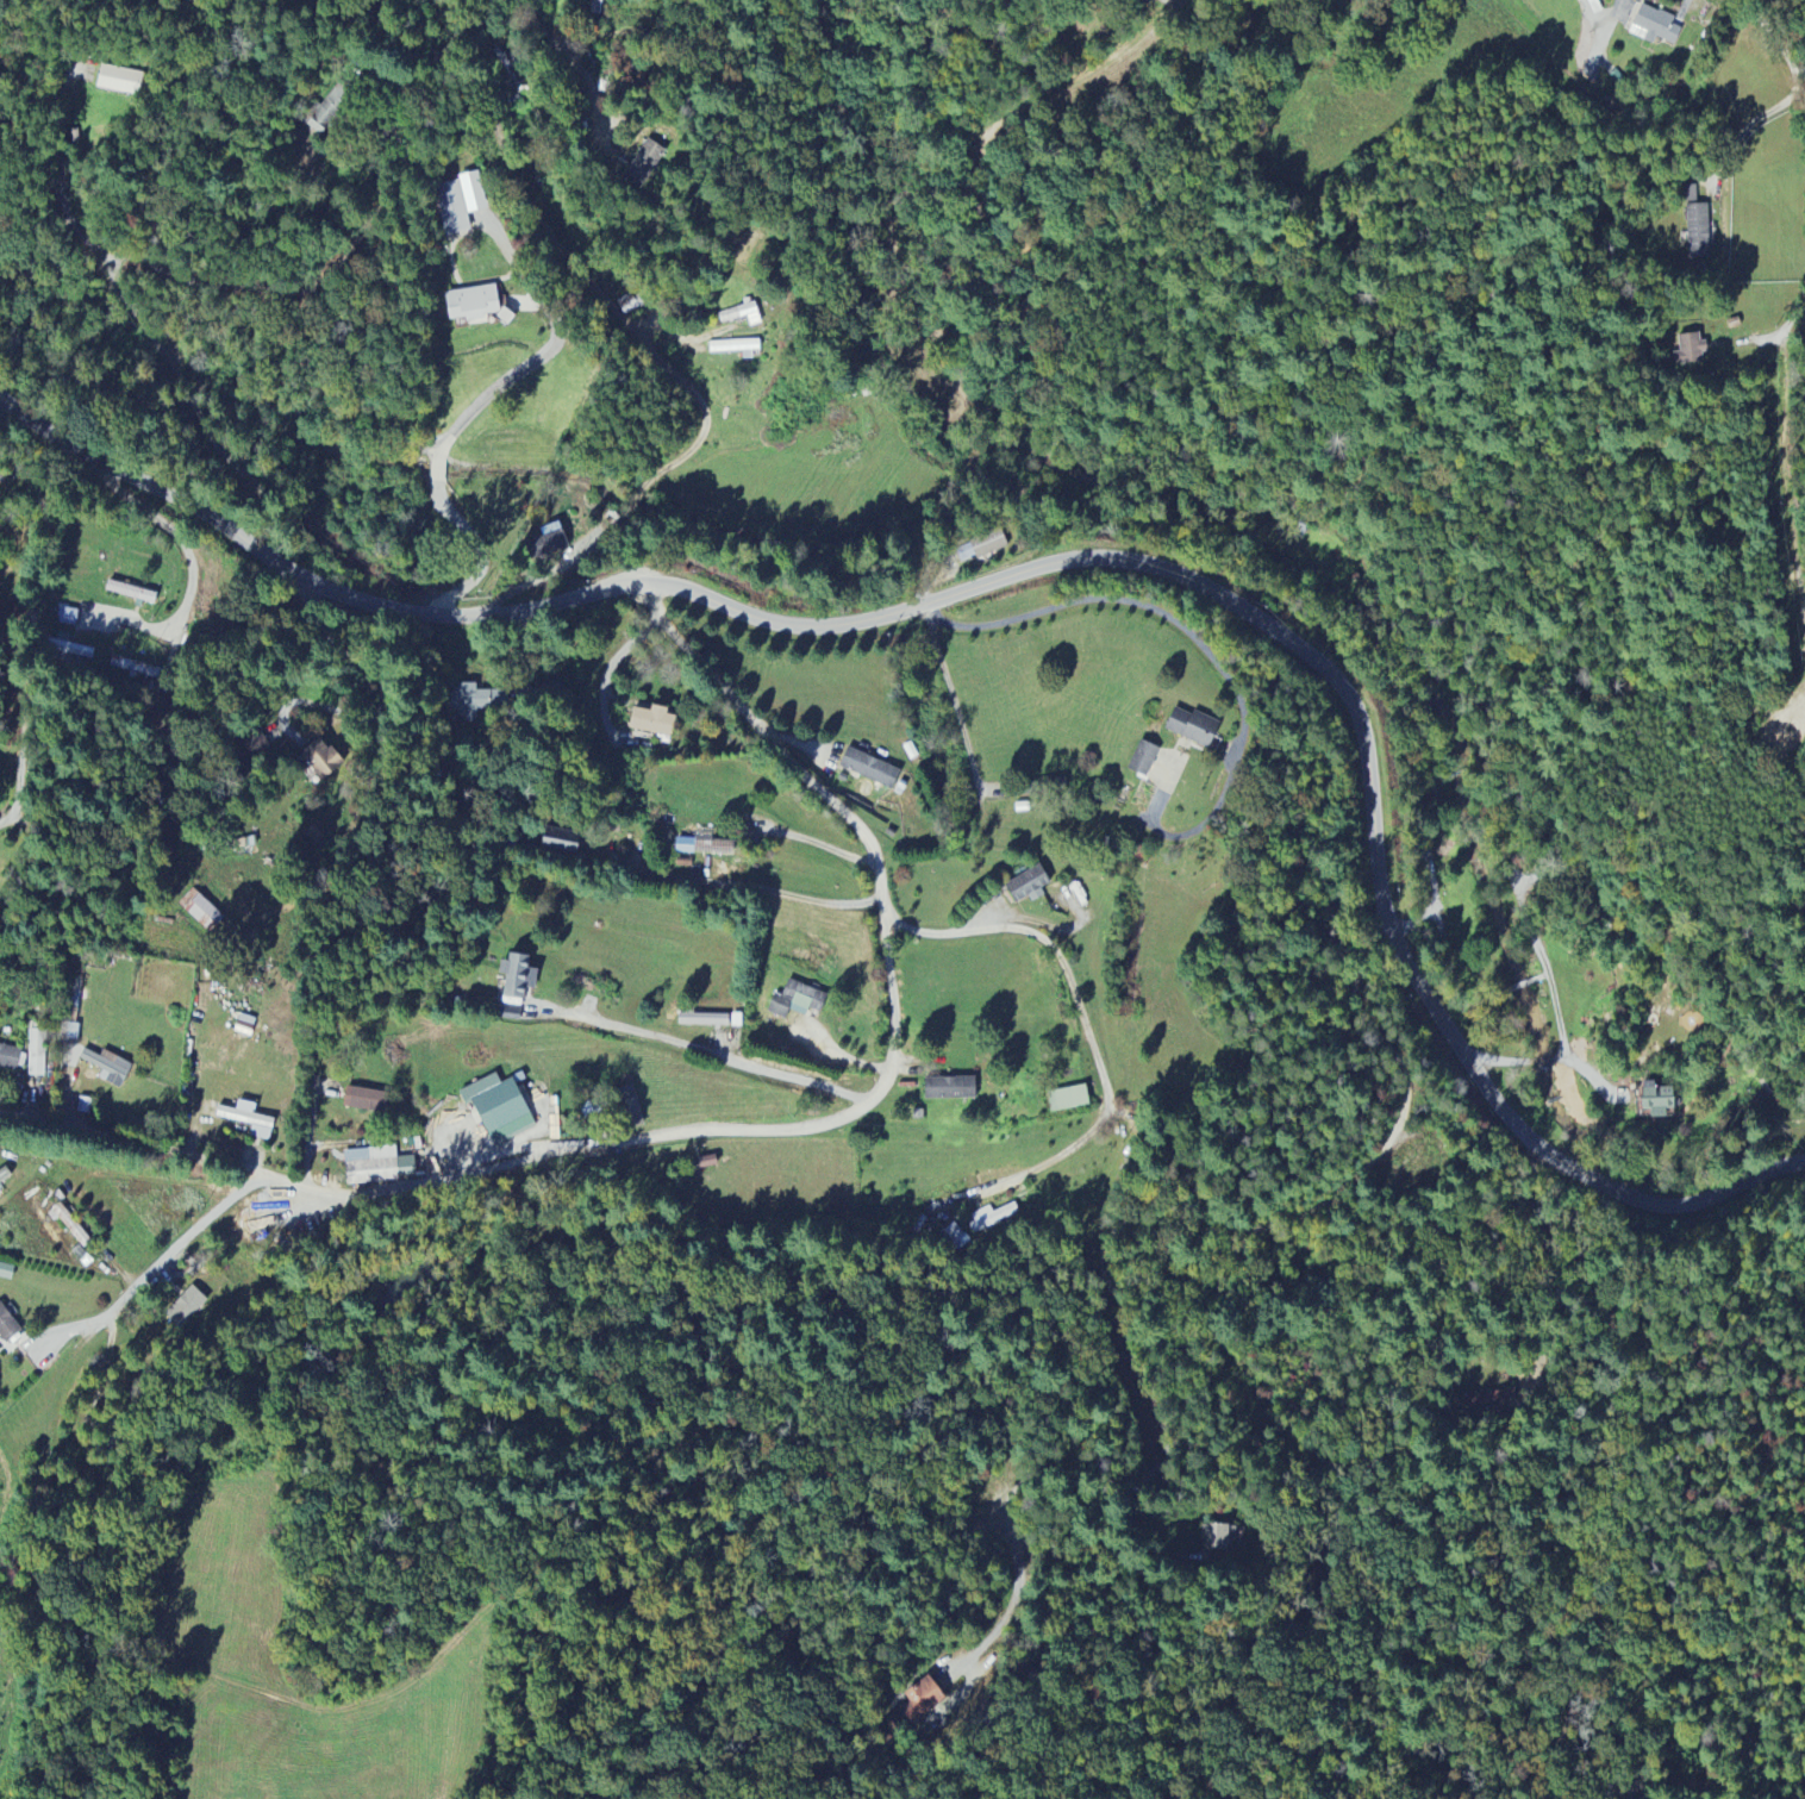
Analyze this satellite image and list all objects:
building: (1655, 26)
road: (529, 32)
road: (1778, 64)
building: (119, 81)
road: (732, 90)
building: (326, 111)
building: (644, 164)
building: (1690, 194)
building: (458, 204)
building: (1698, 232)
road: (914, 254)
road: (1232, 283)
road: (199, 295)
building: (473, 305)
building: (629, 305)
building: (742, 316)
road: (551, 346)
building: (737, 348)
building: (1690, 350)
road: (672, 373)
road: (439, 471)
building: (988, 544)
building: (548, 545)
road: (485, 555)
road: (1058, 564)
road: (193, 577)
road: (1125, 602)
road: (33, 612)
building: (68, 617)
road: (606, 679)
building: (468, 700)
road: (316, 705)
road: (954, 708)
building: (654, 722)
building: (1192, 727)
building: (256, 744)
road: (382, 756)
building: (1143, 758)
building: (323, 761)
building: (869, 769)
building: (561, 843)
road: (810, 845)
building: (700, 847)
building: (1028, 886)
road: (738, 888)
building: (201, 911)
building: (518, 976)
building: (793, 1000)
building: (704, 1020)
road: (1081, 1020)
building: (245, 1025)
building: (37, 1054)
road: (691, 1054)
building: (10, 1057)
building: (108, 1067)
building: (950, 1088)
building: (1660, 1099)
building: (366, 1100)
building: (1068, 1100)
building: (499, 1108)
building: (249, 1119)
road: (729, 1131)
building: (376, 1166)
building: (4, 1175)
building: (992, 1217)
building: (956, 1237)
road: (1101, 1256)
road: (1553, 1264)
road: (156, 1270)
building: (6, 1272)
building: (186, 1307)
building: (7, 1326)
building: (1484, 1406)
building: (1222, 1538)
building: (922, 1700)
road: (1690, 1787)

